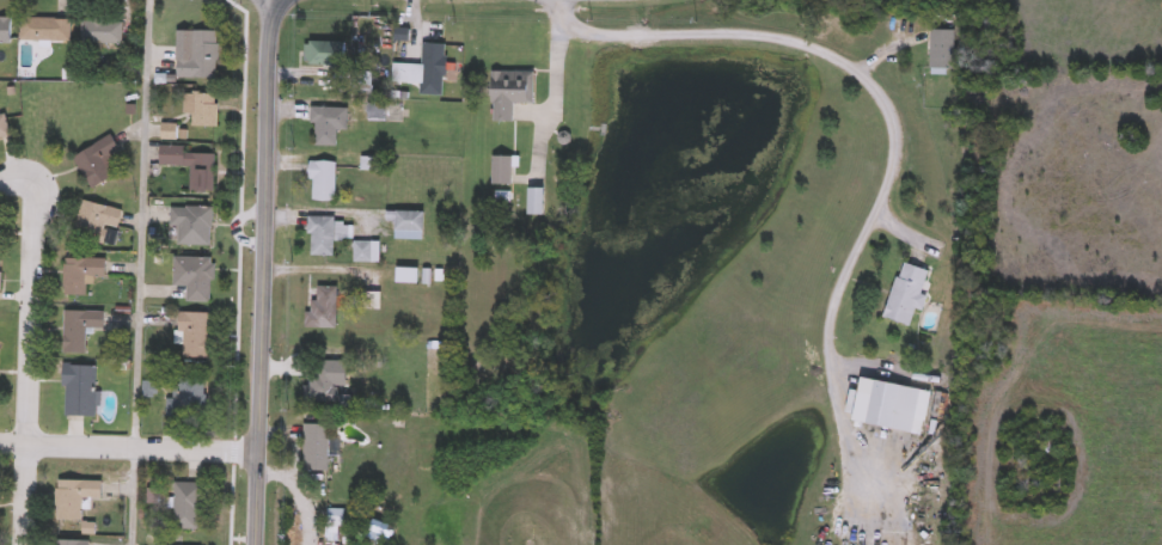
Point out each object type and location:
building: (5, 31)
building: (45, 31)
building: (100, 33)
building: (942, 53)
building: (324, 54)
building: (200, 57)
building: (433, 63)
road: (851, 68)
building: (363, 84)
building: (509, 94)
road: (555, 97)
building: (203, 112)
building: (377, 114)
building: (328, 125)
building: (2, 128)
building: (169, 133)
building: (97, 163)
building: (190, 167)
building: (501, 172)
building: (323, 182)
building: (536, 203)
building: (406, 222)
building: (97, 225)
building: (191, 225)
building: (320, 237)
building: (362, 252)
road: (262, 270)
road: (139, 272)
building: (80, 276)
building: (192, 277)
building: (406, 277)
building: (905, 294)
building: (323, 311)
building: (78, 330)
building: (194, 337)
road: (32, 348)
building: (318, 385)
building: (79, 392)
building: (186, 398)
building: (891, 408)
road: (129, 448)
building: (316, 448)
road: (1137, 449)
building: (74, 497)
road: (1084, 501)
building: (186, 506)
building: (335, 519)
building: (72, 543)

